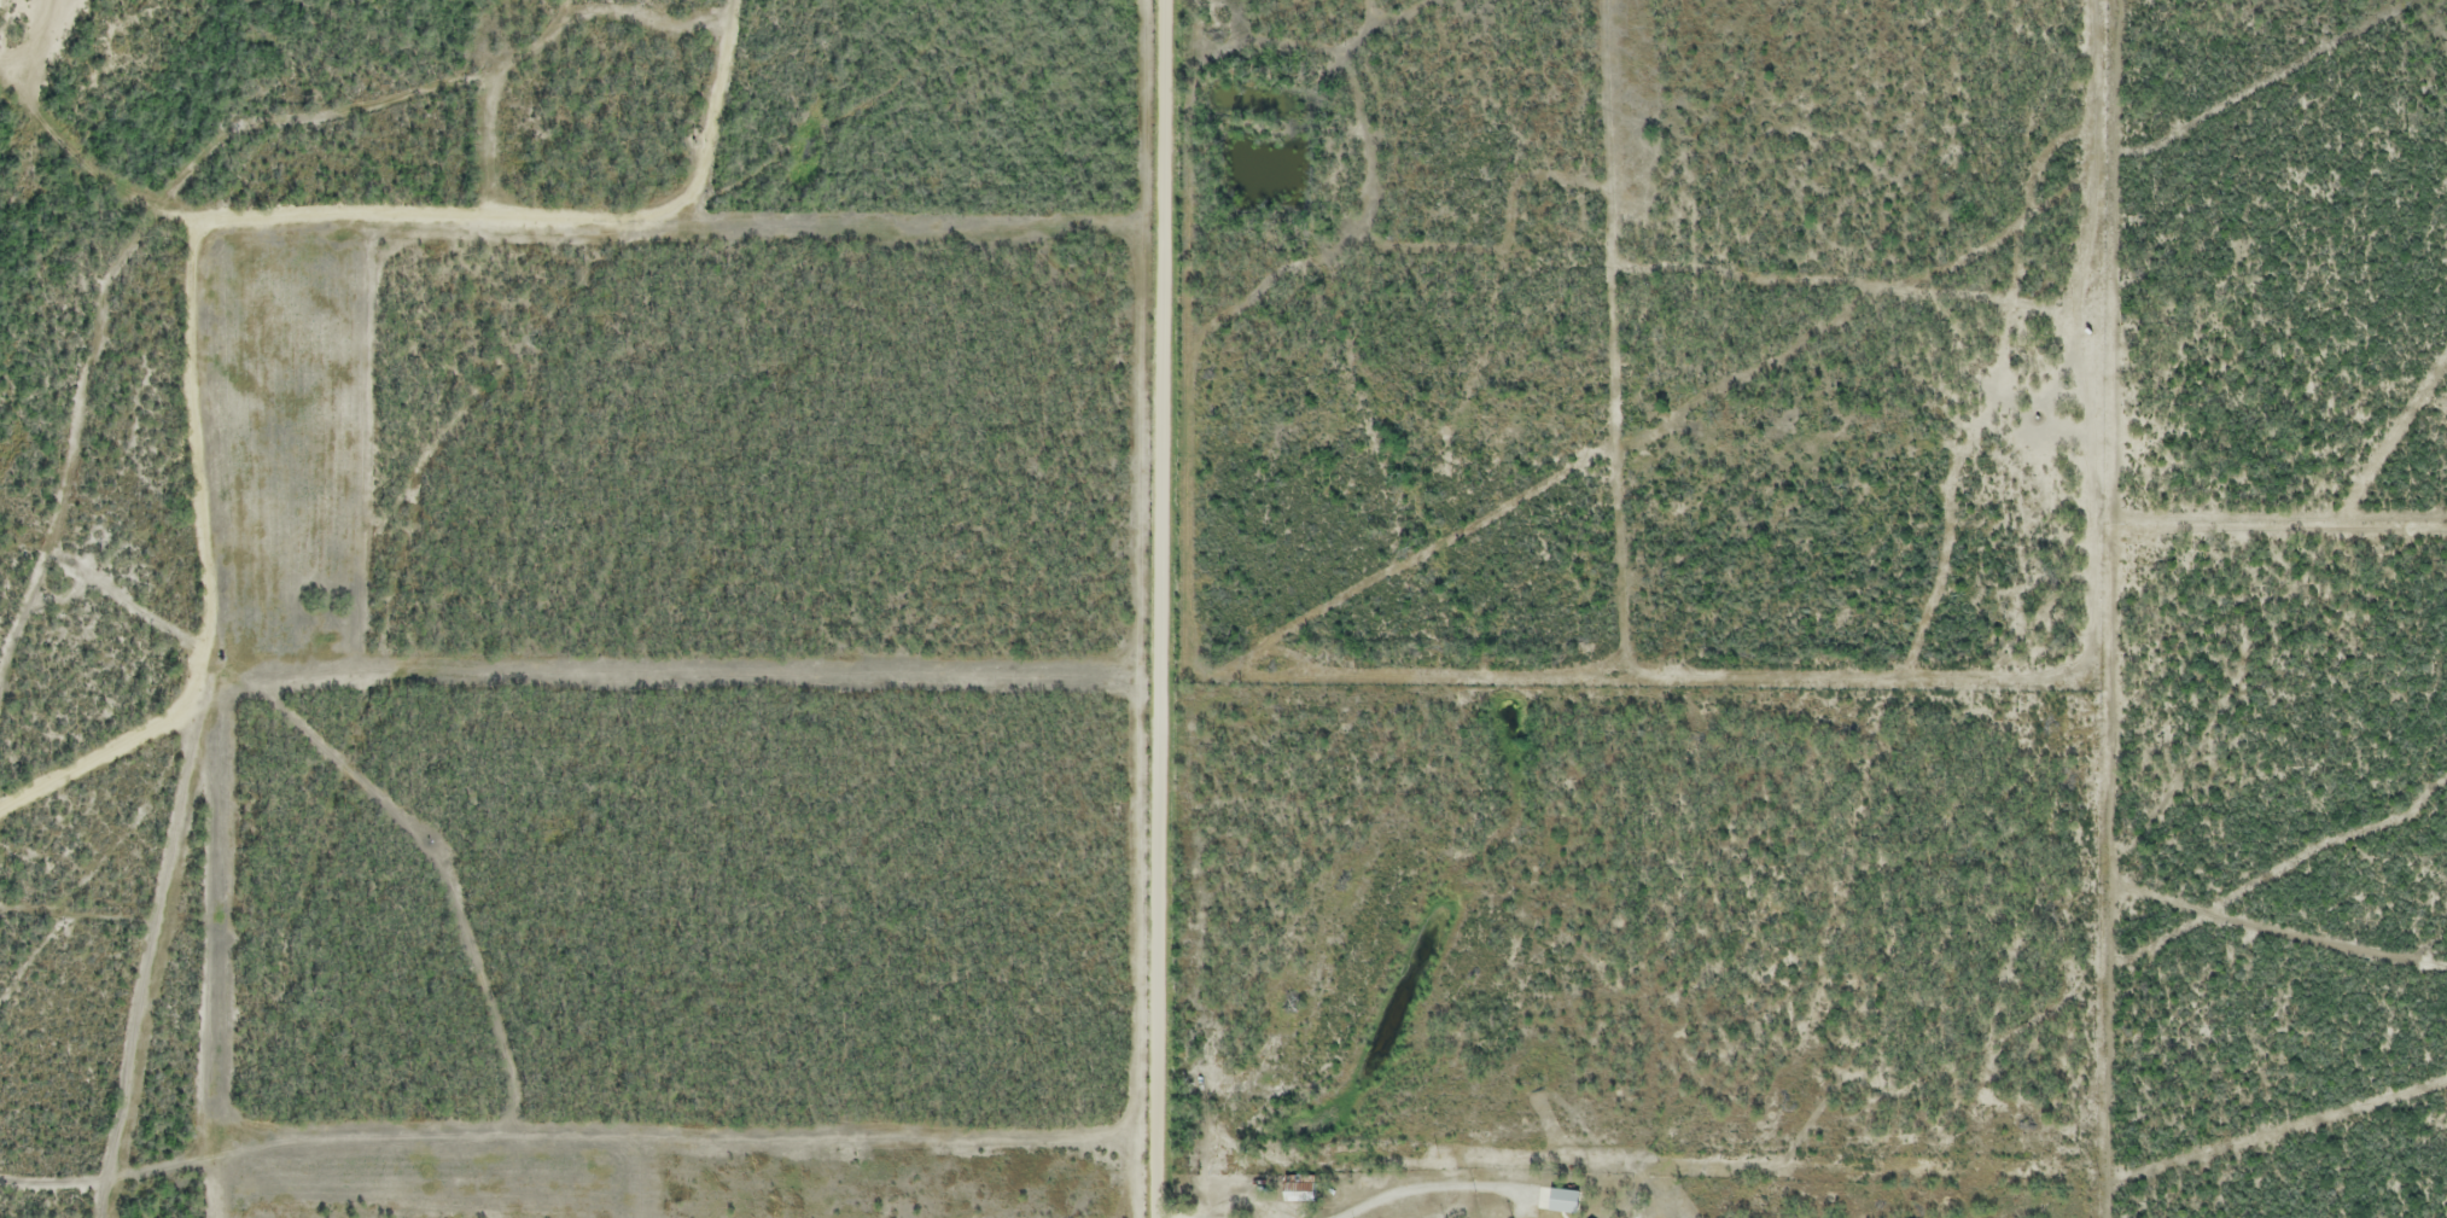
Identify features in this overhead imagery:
road: (1157, 608)
road: (1428, 1187)
building: (1299, 1191)
building: (1556, 1202)

